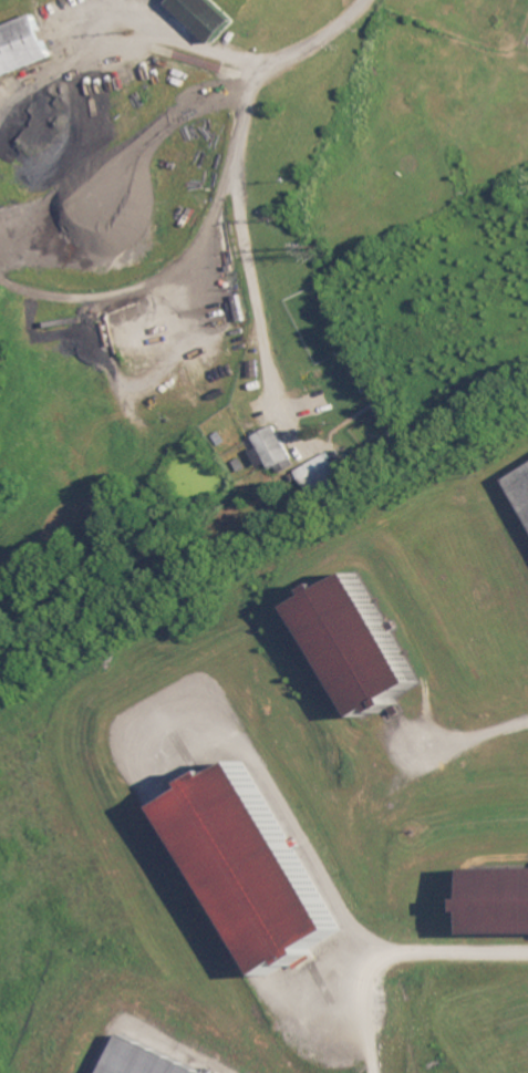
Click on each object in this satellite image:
building: (207, 17)
building: (22, 47)
building: (275, 451)
building: (258, 456)
building: (318, 475)
building: (520, 487)
building: (351, 643)
building: (497, 899)
building: (142, 1060)

